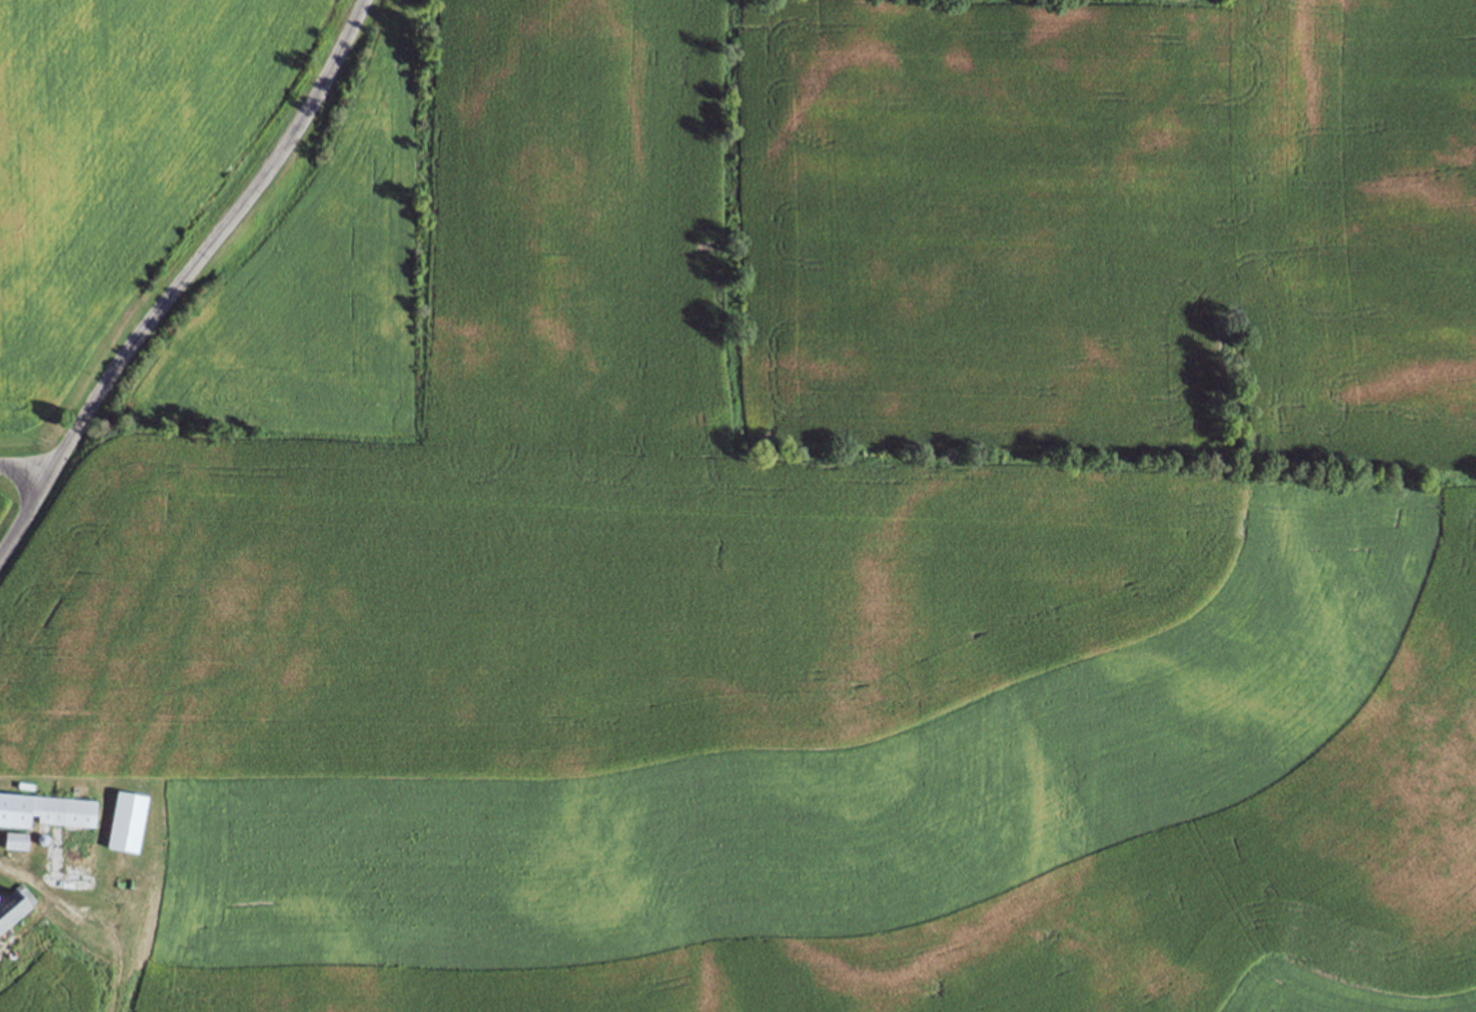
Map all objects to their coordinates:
road: (183, 278)
road: (24, 470)
crop: (805, 525)
building: (46, 810)
building: (127, 821)
building: (16, 840)
building: (14, 905)

